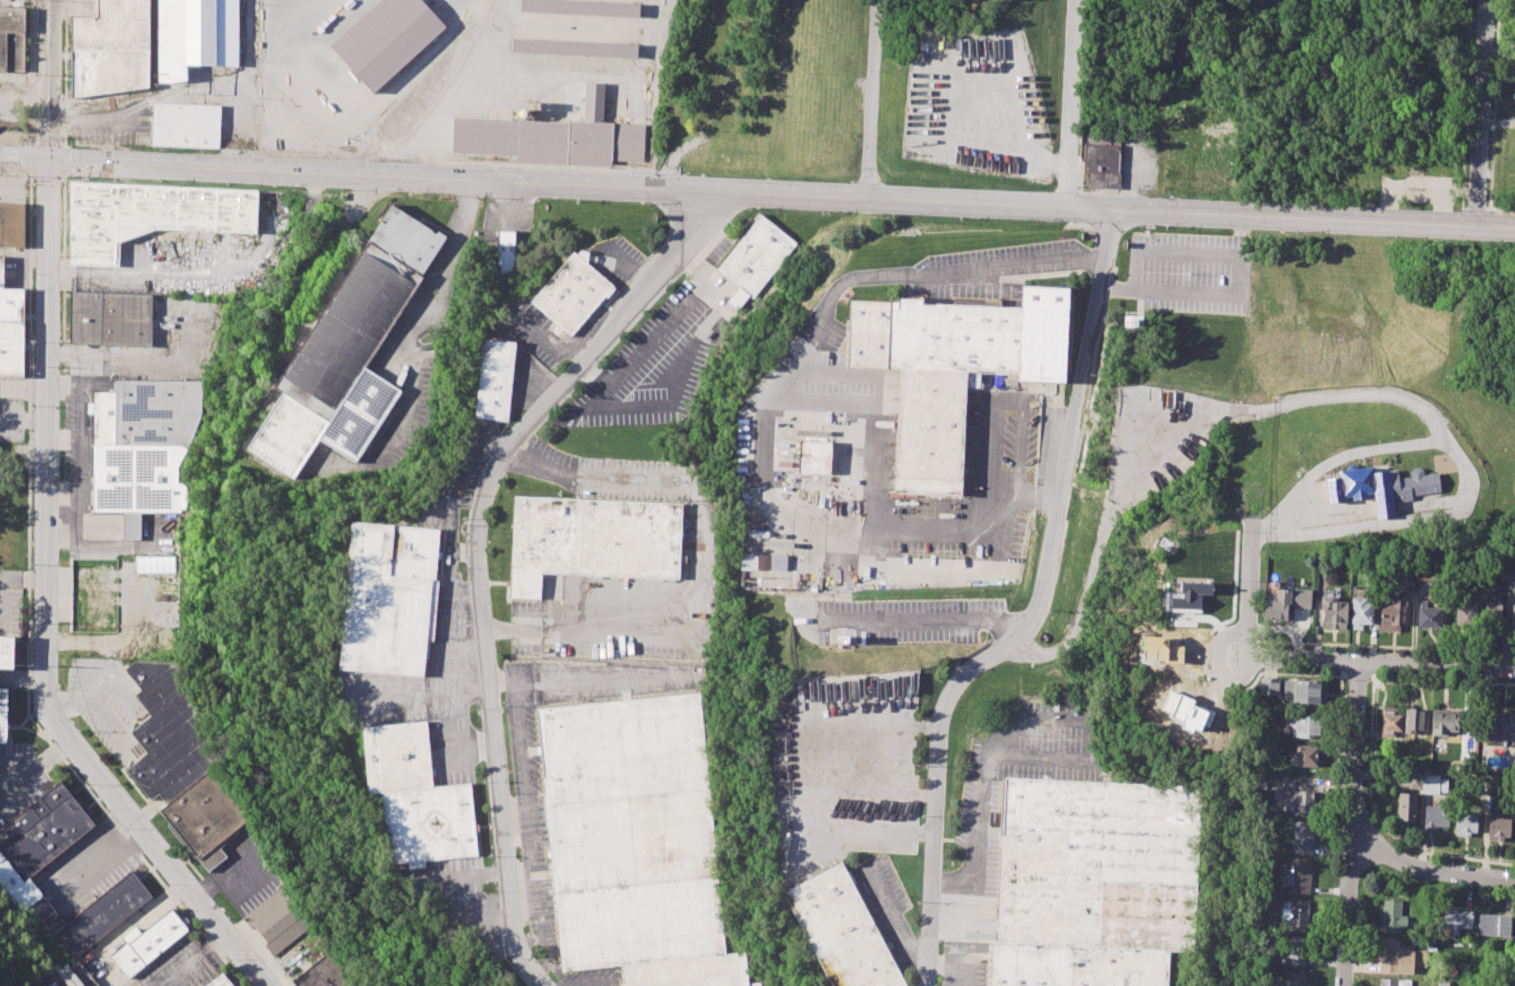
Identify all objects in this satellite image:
building: (582, 6)
street lamp: (1495, 21)
building: (196, 35)
road: (1269, 35)
building: (1514, 36)
building: (386, 39)
building: (12, 41)
street lamp: (33, 42)
building: (574, 47)
building: (110, 48)
railway: (453, 71)
road: (48, 80)
road: (873, 99)
parking lot: (976, 101)
road: (1072, 104)
street lamp: (1491, 110)
road: (1481, 113)
building: (185, 125)
street lamp: (66, 136)
building: (553, 138)
street lamp: (161, 150)
street lamp: (266, 155)
road: (24, 159)
street lamp: (370, 159)
traffic signals: (48, 161)
street lamp: (462, 163)
building: (1101, 166)
street lamp: (557, 167)
street lamp: (858, 168)
street lamp: (651, 172)
street lamp: (761, 177)
street lamp: (845, 182)
street lamp: (26, 184)
street lamp: (1078, 186)
street lamp: (945, 187)
street lamp: (1046, 191)
road: (781, 194)
street lamp: (1148, 195)
street lamp: (1252, 199)
street lamp: (1486, 199)
street lamp: (1355, 205)
road: (511, 207)
street lamp: (1457, 210)
building: (148, 215)
building: (10, 224)
road: (1168, 251)
road: (881, 252)
building: (507, 253)
building: (756, 254)
street lamp: (32, 272)
parking lot: (1191, 273)
building: (572, 292)
road: (1209, 295)
road: (1141, 304)
road: (417, 314)
building: (110, 319)
building: (1134, 322)
building: (10, 328)
road: (658, 331)
road: (545, 342)
building: (348, 349)
parking lot: (653, 365)
building: (952, 368)
street lamp: (32, 371)
building: (496, 378)
road: (1309, 398)
road: (768, 414)
parking lot: (1156, 439)
building: (144, 449)
building: (814, 457)
road: (1334, 458)
street lamp: (31, 472)
parking lot: (878, 480)
building: (1378, 488)
road: (463, 502)
building: (1407, 520)
building: (591, 539)
road: (701, 547)
road: (462, 550)
road: (476, 555)
building: (763, 562)
street lamp: (30, 563)
building: (154, 564)
building: (1510, 582)
building: (1406, 583)
road: (1250, 585)
road: (466, 592)
building: (1187, 596)
building: (388, 598)
building: (1473, 598)
building: (1287, 602)
road: (44, 611)
road: (1318, 612)
building: (1334, 612)
building: (1361, 612)
building: (1393, 612)
building: (1429, 614)
road: (1035, 615)
building: (1465, 618)
road: (924, 619)
building: (1492, 619)
building: (1513, 619)
parking lot: (905, 621)
building: (843, 639)
road: (463, 644)
building: (6, 650)
road: (1380, 662)
building: (1269, 685)
road: (462, 690)
building: (1305, 690)
road: (97, 699)
building: (4, 715)
building: (1445, 721)
building: (1414, 722)
building: (1390, 723)
building: (1303, 726)
building: (1500, 726)
building: (168, 729)
road: (890, 745)
road: (1369, 753)
building: (1308, 755)
road: (36, 767)
parking lot: (842, 767)
building: (1431, 784)
road: (983, 787)
building: (1487, 788)
building: (416, 796)
building: (1295, 800)
building: (1405, 808)
road: (905, 814)
building: (1436, 815)
building: (206, 817)
road: (1351, 824)
building: (1464, 824)
building: (1497, 828)
building: (1302, 837)
building: (635, 841)
building: (32, 848)
road: (1429, 869)
building: (1300, 877)
building: (1094, 881)
road: (59, 883)
road: (156, 902)
building: (1299, 914)
building: (1392, 917)
road: (891, 918)
building: (1457, 920)
building: (277, 921)
building: (1495, 924)
building: (843, 930)
building: (146, 942)
road: (100, 951)
building: (1298, 951)
building: (1394, 957)
road: (191, 960)
road: (953, 966)
building: (336, 967)
building: (1292, 980)
building: (219, 981)
building: (1394, 982)
building: (1442, 983)

